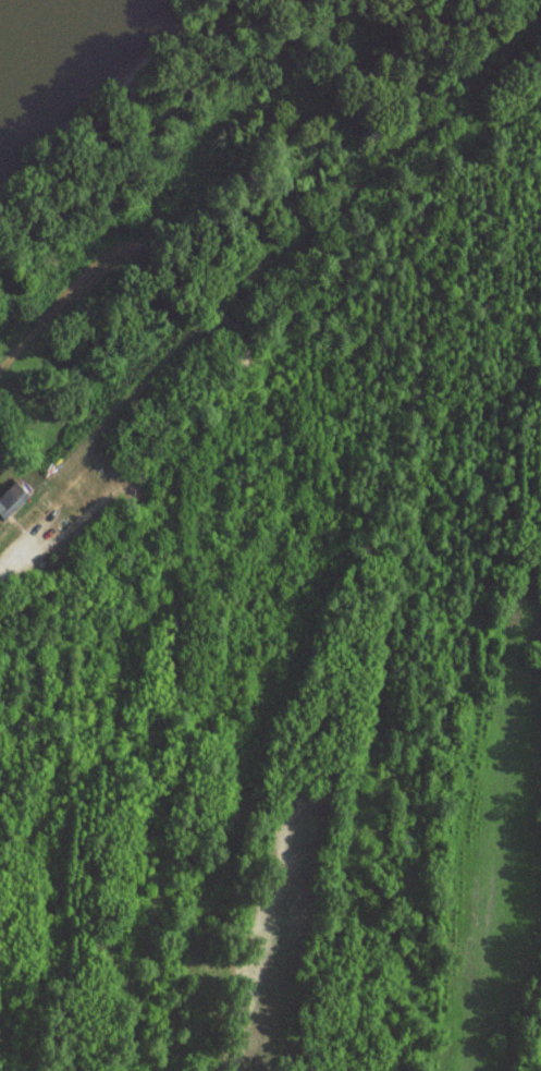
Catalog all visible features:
river: (28, 25)
road: (16, 557)

